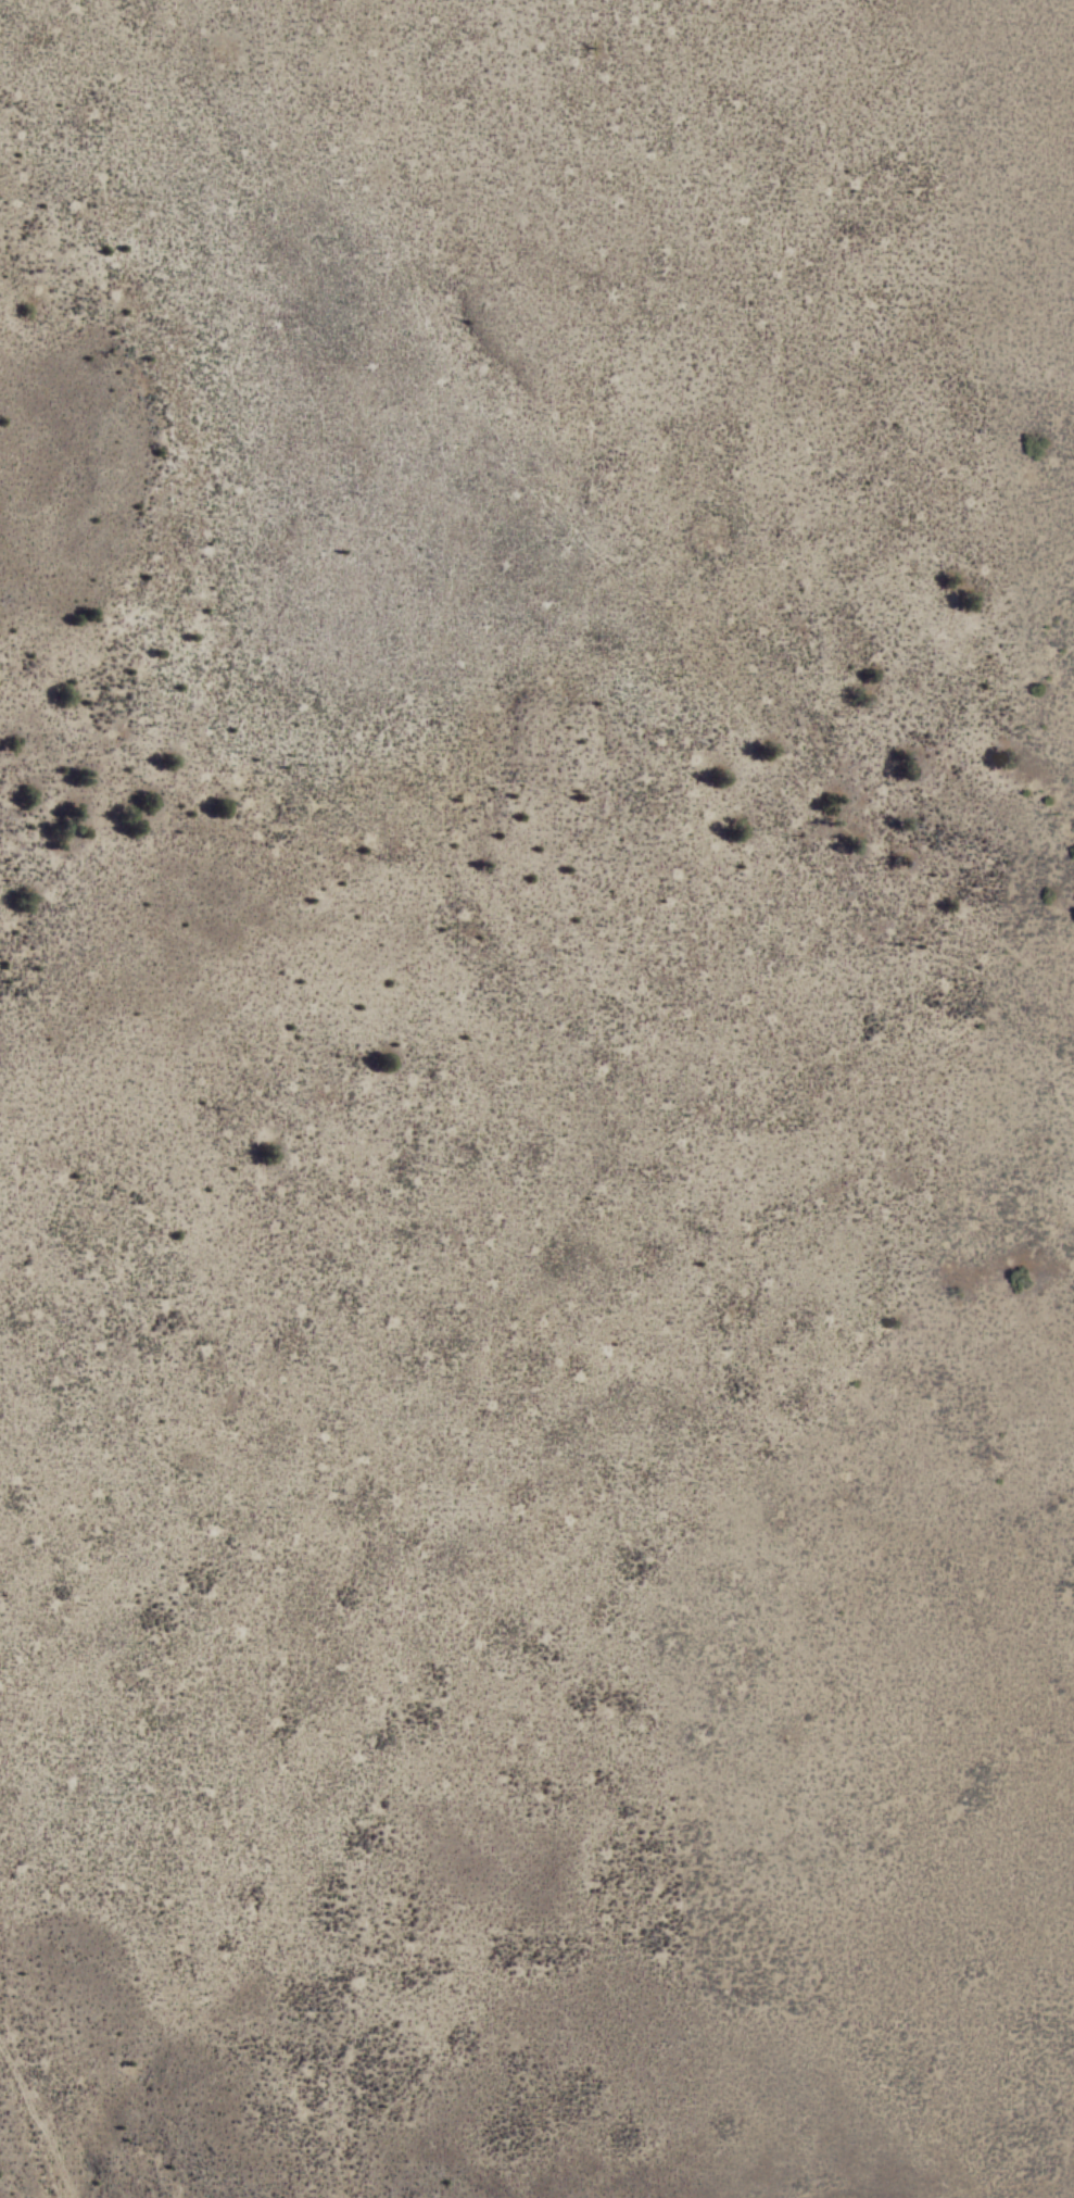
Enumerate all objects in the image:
road: (56, 2098)

